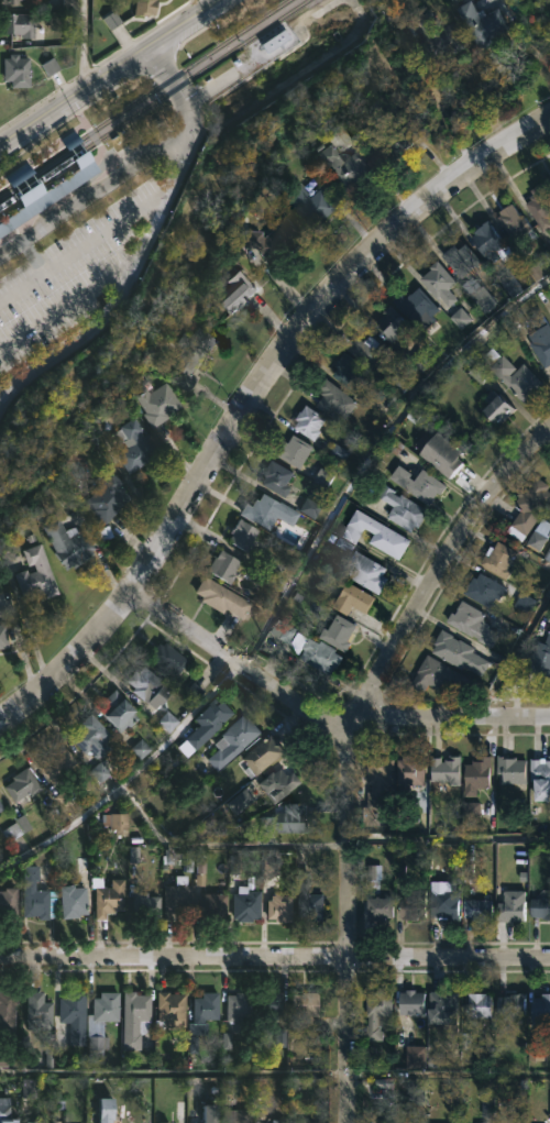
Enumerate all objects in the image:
building: (13, 2)
road: (210, 2)
building: (69, 5)
building: (143, 7)
building: (548, 7)
building: (110, 20)
building: (484, 22)
road: (183, 23)
building: (18, 24)
building: (437, 35)
building: (277, 43)
road: (82, 45)
road: (96, 65)
building: (47, 67)
building: (14, 71)
railway: (193, 75)
road: (178, 89)
railway: (144, 95)
road: (75, 99)
road: (431, 99)
road: (66, 119)
railway: (76, 135)
building: (399, 141)
railway: (91, 155)
railway: (91, 159)
building: (345, 166)
railway: (40, 177)
building: (52, 196)
road: (92, 197)
building: (310, 203)
building: (538, 207)
building: (509, 223)
building: (276, 240)
building: (493, 243)
road: (24, 246)
road: (86, 246)
building: (462, 260)
parking lot: (69, 276)
building: (442, 284)
building: (240, 291)
road: (120, 295)
road: (70, 301)
building: (420, 307)
road: (302, 316)
building: (395, 324)
building: (539, 341)
building: (373, 351)
building: (194, 355)
building: (352, 374)
building: (514, 374)
building: (335, 400)
building: (157, 403)
building: (498, 407)
building: (310, 422)
building: (135, 444)
building: (295, 450)
building: (450, 456)
building: (277, 478)
building: (422, 483)
building: (109, 498)
building: (405, 509)
building: (531, 509)
building: (266, 511)
building: (543, 528)
building: (376, 535)
building: (244, 536)
building: (69, 544)
road: (441, 559)
building: (495, 559)
building: (224, 566)
building: (366, 572)
building: (37, 574)
building: (485, 590)
building: (223, 598)
building: (355, 601)
building: (475, 625)
building: (340, 632)
building: (4, 637)
building: (461, 653)
building: (323, 657)
road: (68, 658)
building: (540, 659)
building: (168, 660)
building: (440, 676)
building: (148, 687)
road: (320, 711)
building: (119, 712)
building: (167, 723)
building: (208, 726)
building: (92, 737)
building: (234, 742)
building: (263, 757)
building: (57, 761)
building: (514, 769)
building: (413, 770)
building: (448, 770)
building: (480, 771)
building: (542, 778)
building: (381, 780)
building: (280, 785)
building: (23, 795)
building: (1, 807)
building: (287, 819)
road: (451, 839)
building: (37, 894)
building: (108, 896)
building: (177, 896)
building: (310, 899)
building: (74, 901)
building: (448, 901)
building: (415, 902)
building: (9, 903)
building: (147, 905)
building: (246, 905)
building: (509, 906)
building: (213, 907)
building: (381, 907)
building: (538, 907)
building: (280, 909)
building: (477, 910)
road: (350, 917)
road: (274, 957)
building: (414, 1002)
building: (274, 1004)
building: (507, 1004)
building: (240, 1005)
building: (480, 1005)
building: (305, 1008)
building: (447, 1008)
building: (539, 1009)
building: (172, 1010)
building: (38, 1011)
building: (9, 1012)
building: (206, 1013)
building: (377, 1013)
building: (136, 1019)
building: (71, 1020)
building: (101, 1020)
building: (110, 1111)
building: (8, 1112)
building: (213, 1112)
building: (238, 1116)
building: (196, 1120)
building: (48, 1121)
building: (280, 1121)
building: (166, 1122)
building: (480, 1122)

